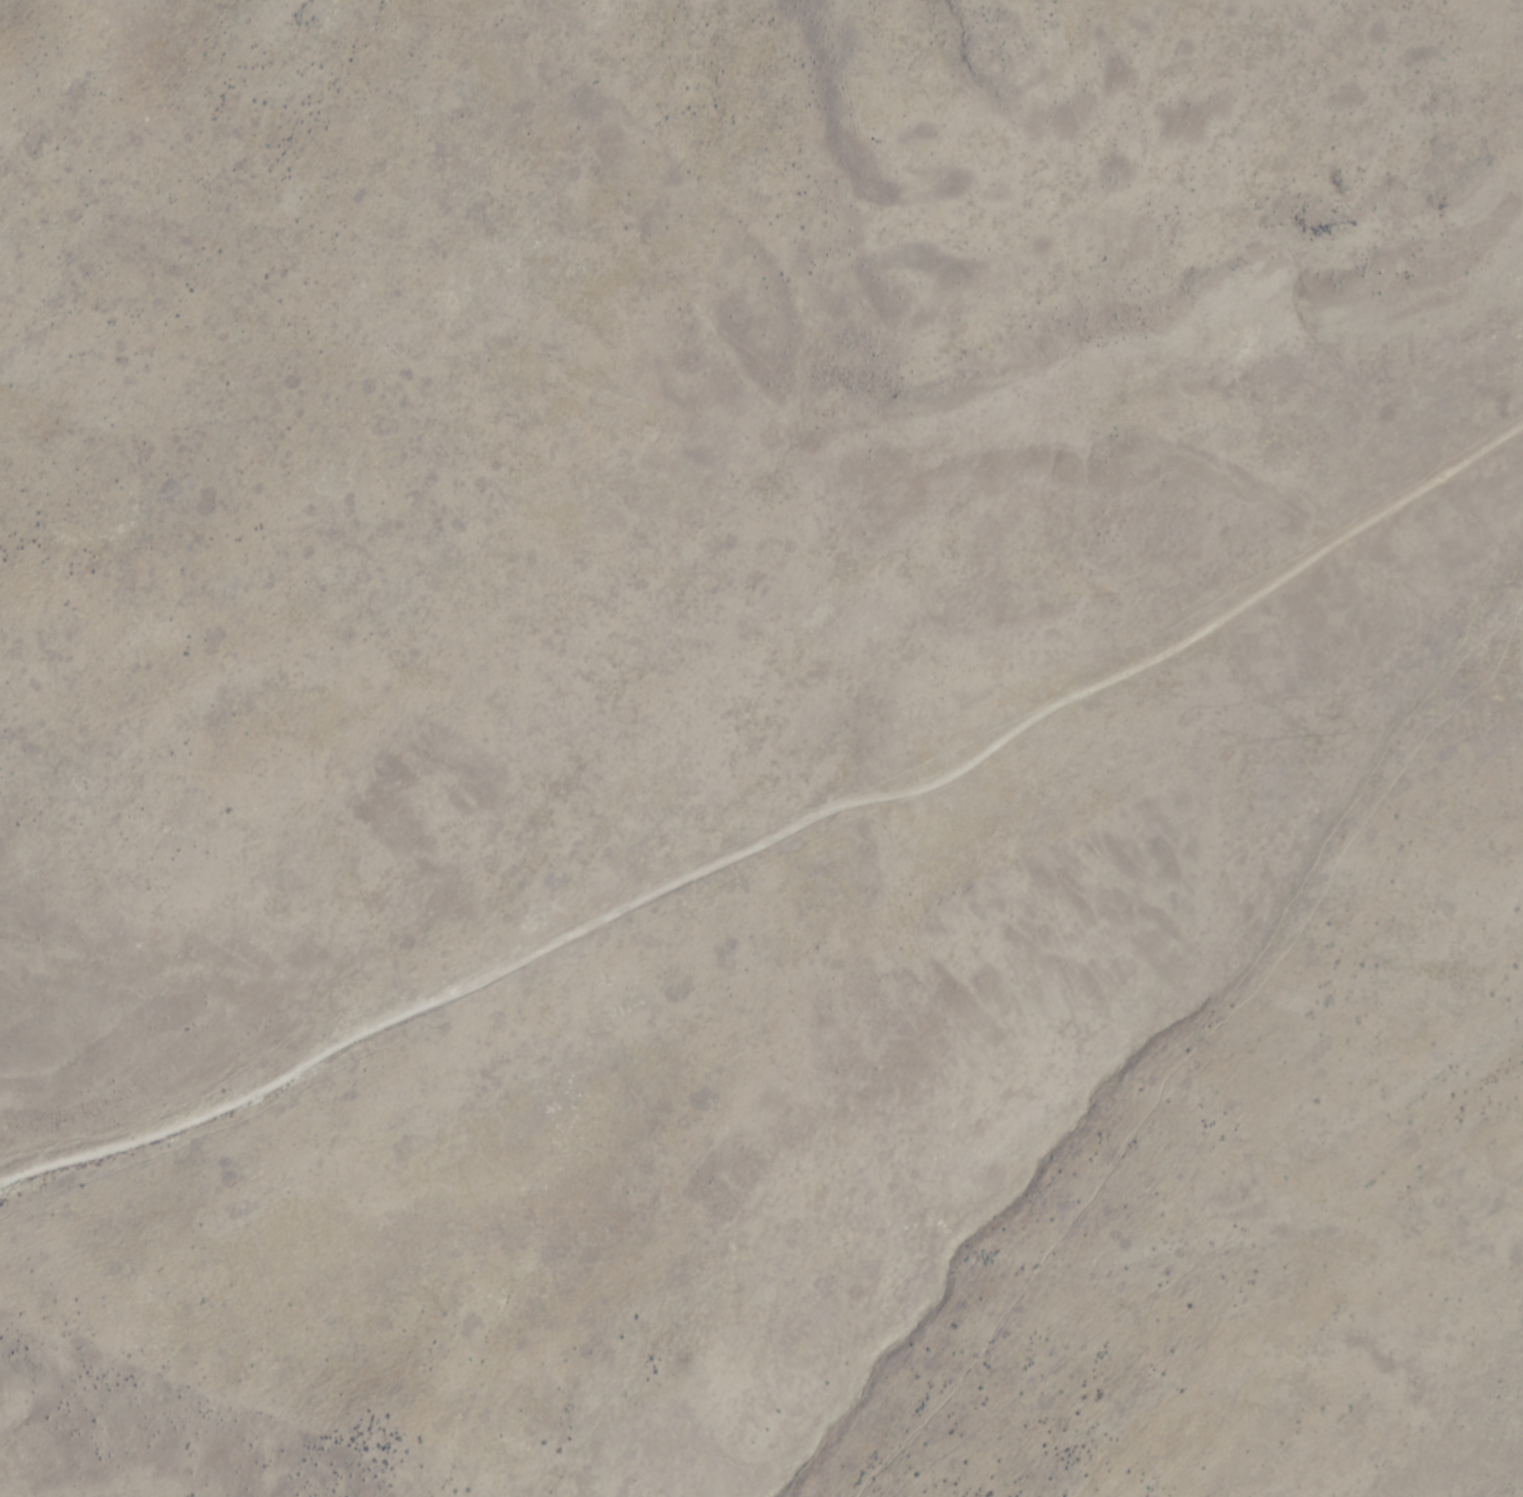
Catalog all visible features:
road: (780, 832)

